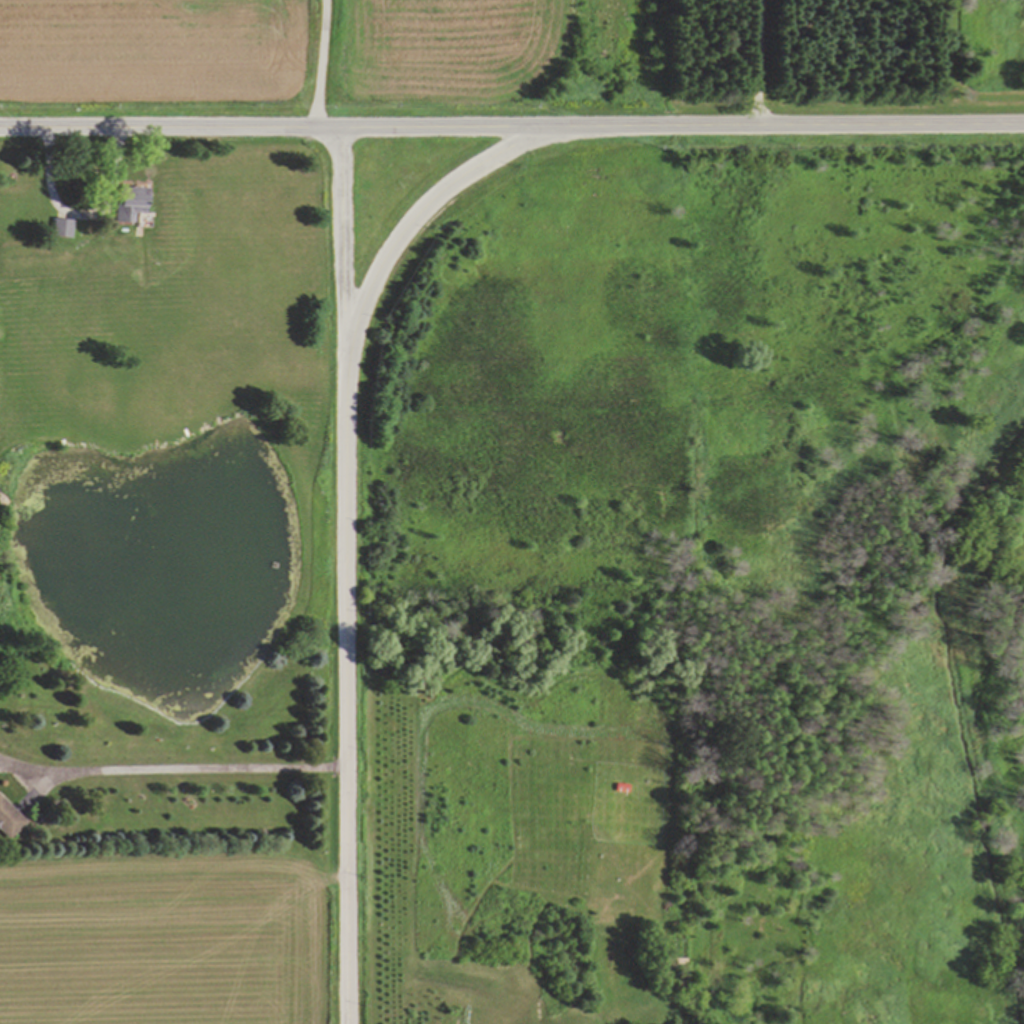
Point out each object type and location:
road: (756, 60)
road: (322, 64)
road: (512, 127)
building: (126, 203)
building: (60, 227)
road: (346, 259)
road: (347, 532)
building: (8, 819)

